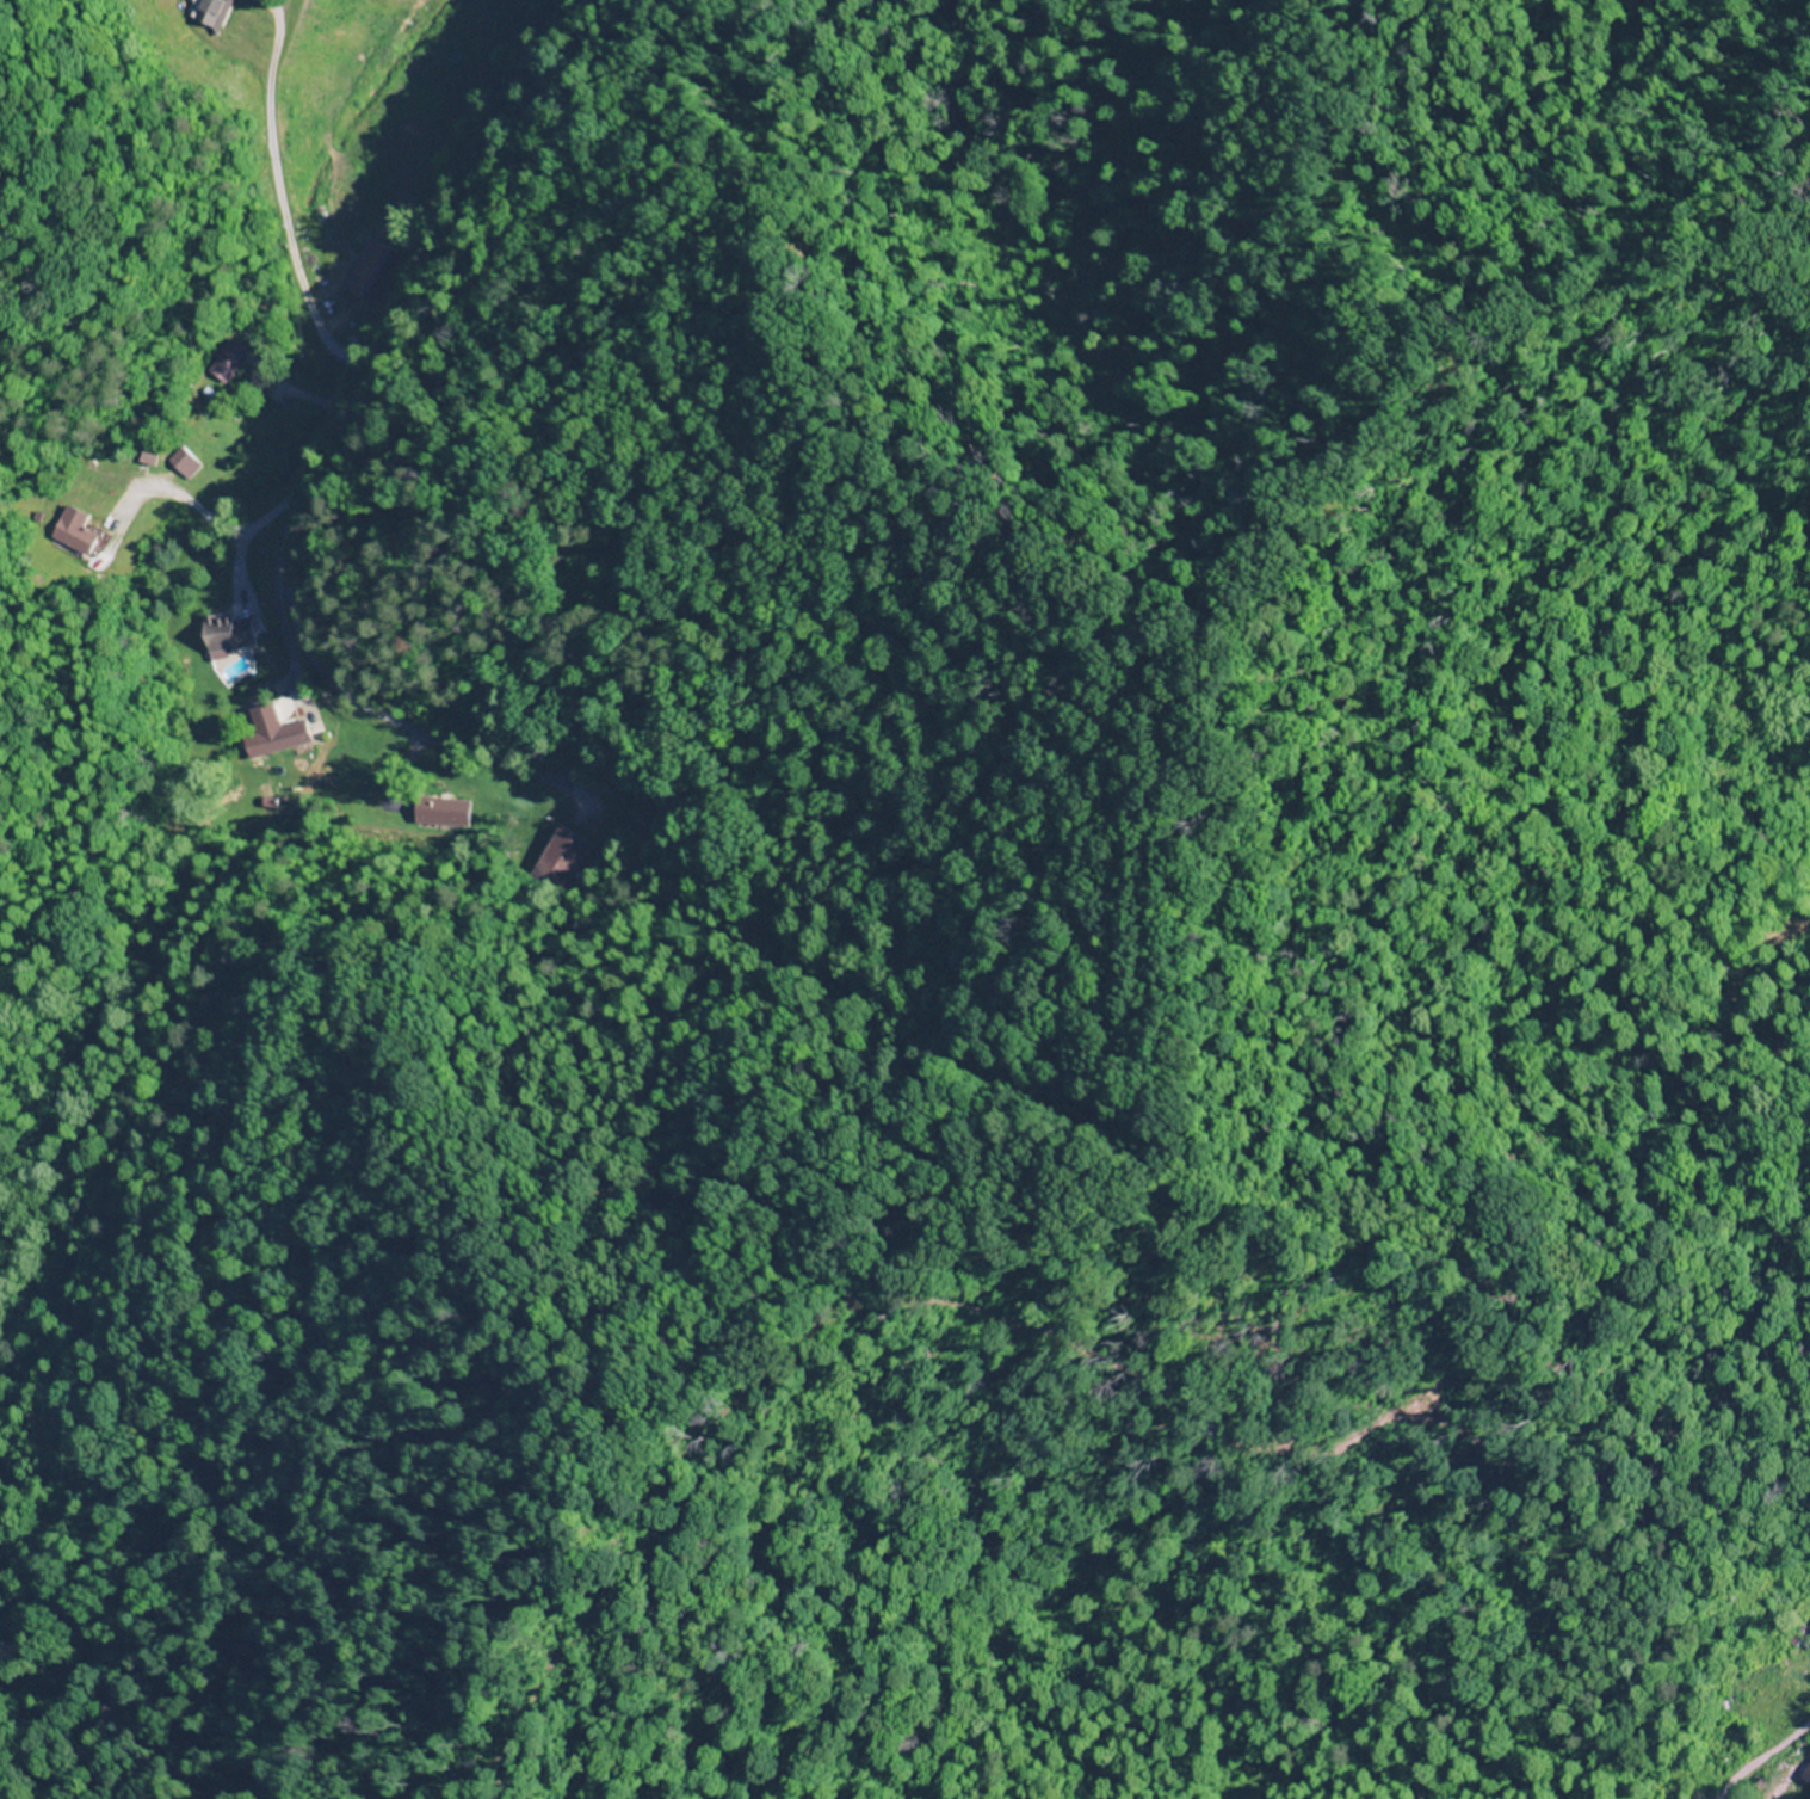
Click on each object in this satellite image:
building: (226, 361)
road: (317, 437)
building: (183, 462)
building: (74, 536)
building: (228, 634)
building: (282, 737)
building: (439, 811)
building: (557, 858)
building: (1808, 1634)
building: (1753, 1688)
building: (1787, 1720)
road: (1773, 1770)
building: (1791, 1783)

